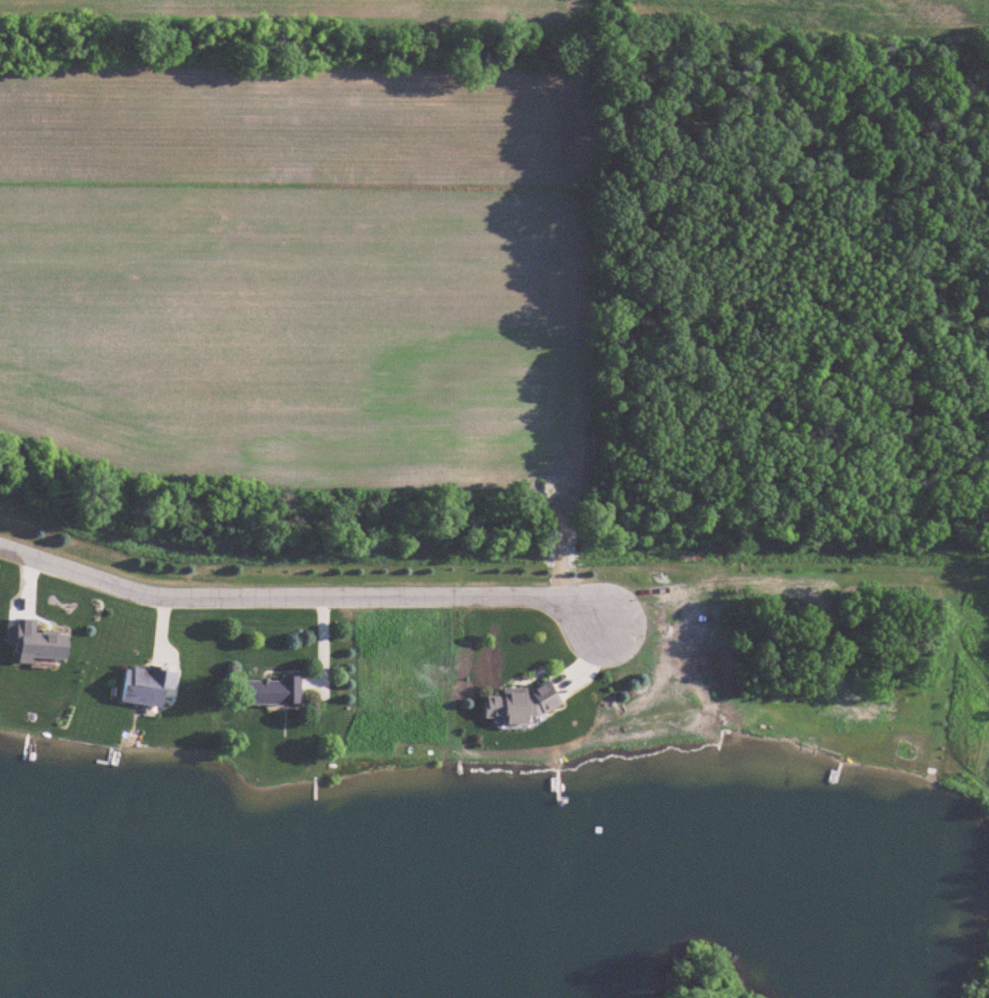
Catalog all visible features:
road: (302, 597)
building: (148, 685)
building: (275, 692)
building: (523, 704)

